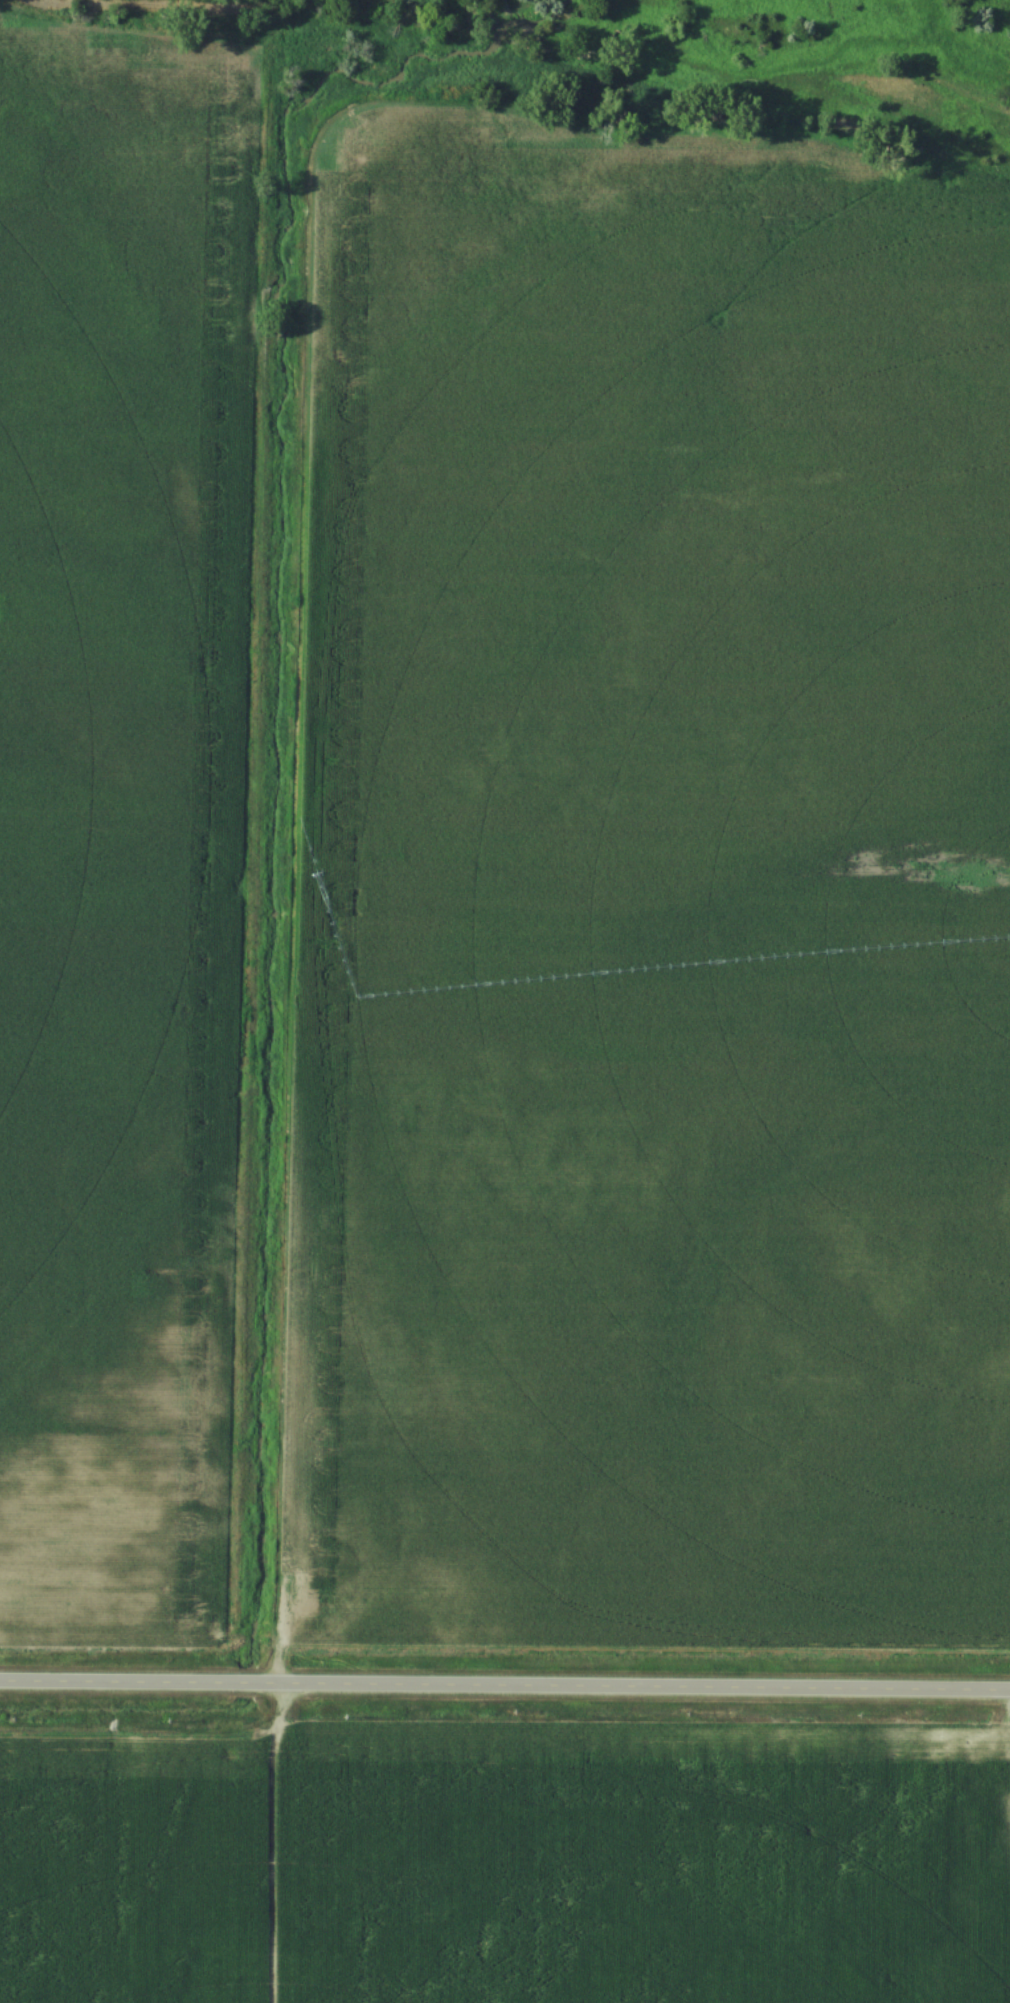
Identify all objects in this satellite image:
road: (505, 1686)

